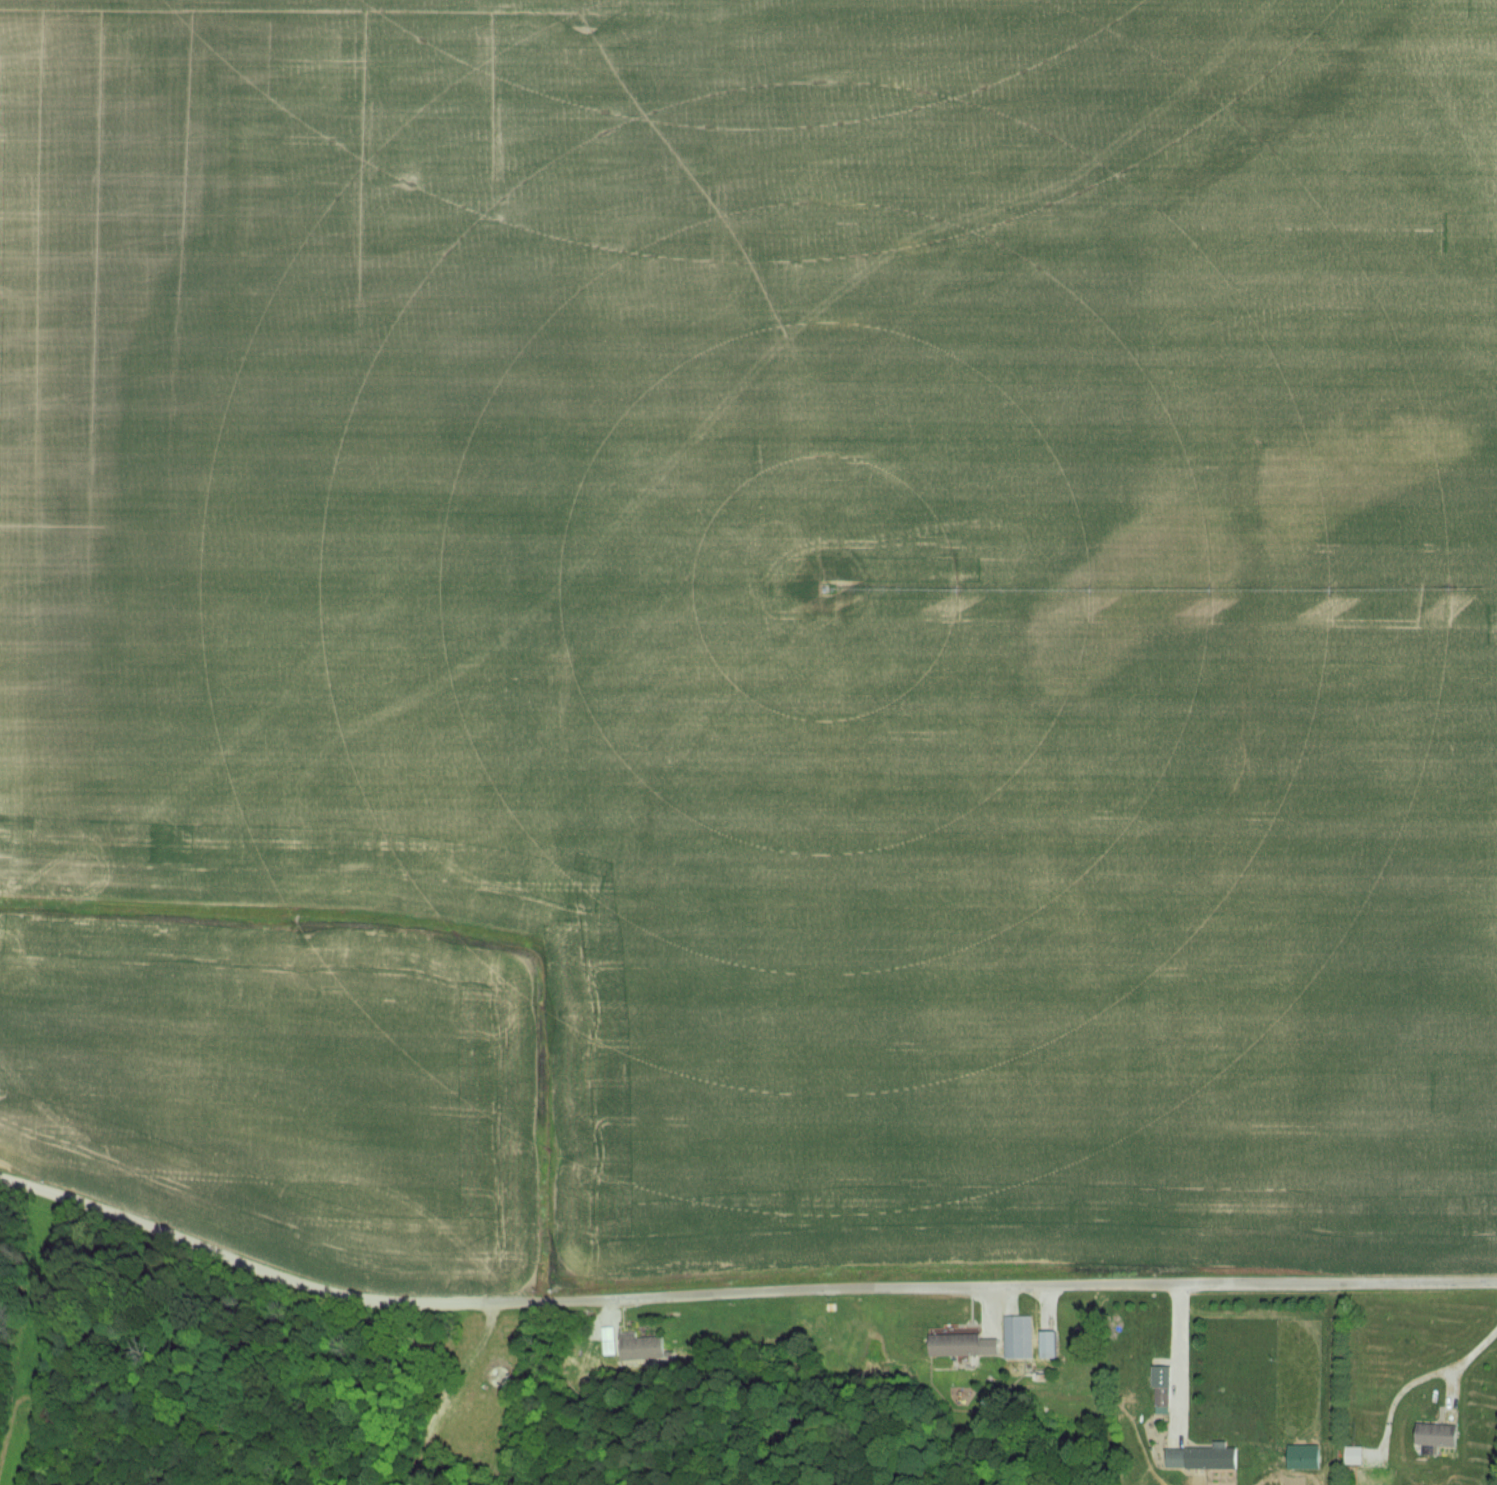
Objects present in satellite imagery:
road: (738, 1292)
building: (1020, 1337)
building: (956, 1345)
building: (642, 1348)
road: (1180, 1357)
road: (1459, 1365)
building: (1164, 1394)
building: (1438, 1436)
building: (1355, 1457)
building: (1203, 1459)

